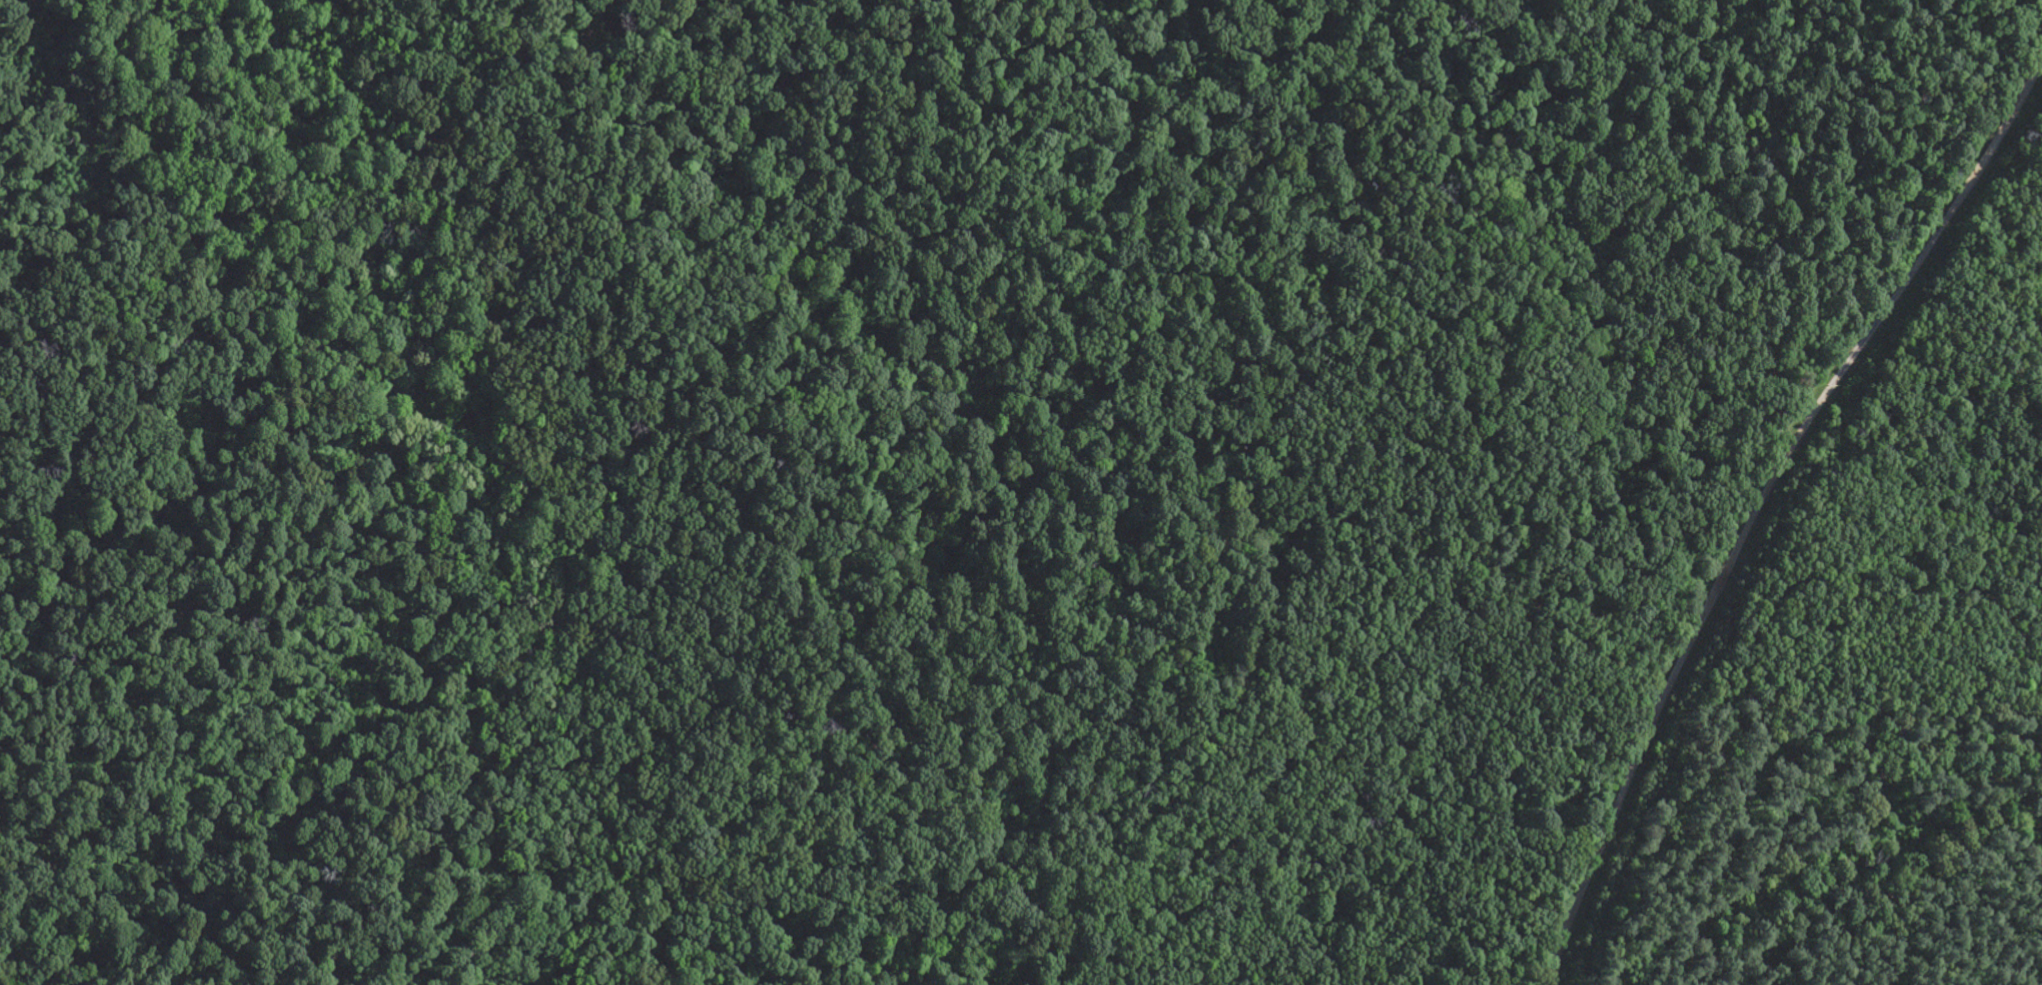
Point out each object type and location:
road: (1763, 501)

